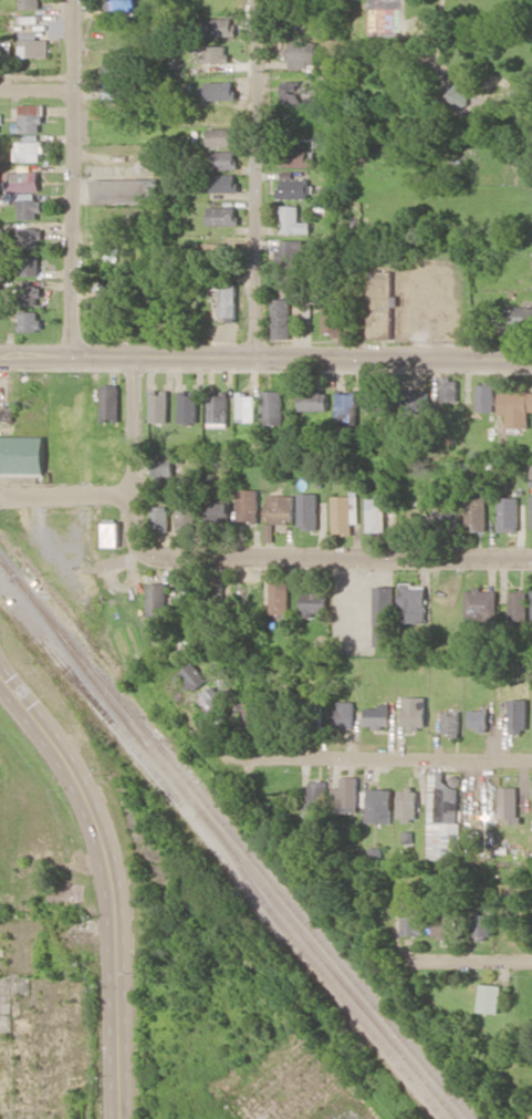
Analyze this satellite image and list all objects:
building: (30, 3)
building: (117, 4)
building: (218, 25)
building: (34, 44)
building: (215, 53)
building: (304, 54)
building: (112, 68)
building: (220, 90)
road: (36, 91)
building: (296, 91)
building: (457, 95)
building: (32, 117)
building: (221, 136)
building: (29, 151)
building: (296, 156)
building: (524, 156)
building: (222, 159)
road: (73, 177)
road: (258, 179)
building: (23, 180)
building: (223, 182)
building: (294, 188)
building: (124, 190)
building: (28, 205)
building: (222, 215)
building: (294, 220)
building: (30, 237)
building: (216, 251)
building: (293, 252)
building: (30, 265)
building: (29, 294)
building: (229, 301)
building: (382, 304)
building: (106, 305)
building: (515, 315)
building: (282, 318)
building: (30, 321)
building: (335, 322)
road: (265, 359)
building: (449, 388)
building: (487, 396)
building: (314, 400)
building: (374, 400)
building: (111, 402)
building: (159, 405)
building: (189, 405)
building: (219, 406)
building: (247, 406)
building: (273, 406)
building: (346, 407)
building: (517, 407)
building: (7, 412)
road: (134, 428)
building: (22, 454)
building: (164, 470)
road: (66, 495)
building: (249, 505)
building: (219, 510)
building: (309, 510)
building: (375, 510)
building: (186, 511)
building: (278, 511)
building: (344, 512)
building: (509, 514)
building: (160, 517)
building: (445, 518)
building: (109, 532)
road: (310, 556)
railway: (7, 568)
building: (280, 597)
building: (157, 599)
building: (314, 602)
building: (413, 602)
building: (480, 607)
building: (518, 607)
building: (384, 615)
building: (194, 675)
building: (213, 700)
building: (414, 712)
building: (345, 714)
building: (519, 714)
building: (378, 715)
building: (478, 718)
building: (450, 723)
road: (377, 757)
railway: (156, 777)
building: (315, 795)
building: (346, 795)
building: (444, 796)
building: (408, 802)
building: (509, 804)
building: (379, 805)
building: (445, 840)
railway: (240, 847)
railway: (230, 850)
railway: (239, 864)
road: (107, 883)
building: (413, 924)
building: (482, 924)
building: (439, 925)
road: (480, 961)
building: (490, 997)
railway: (357, 1019)

